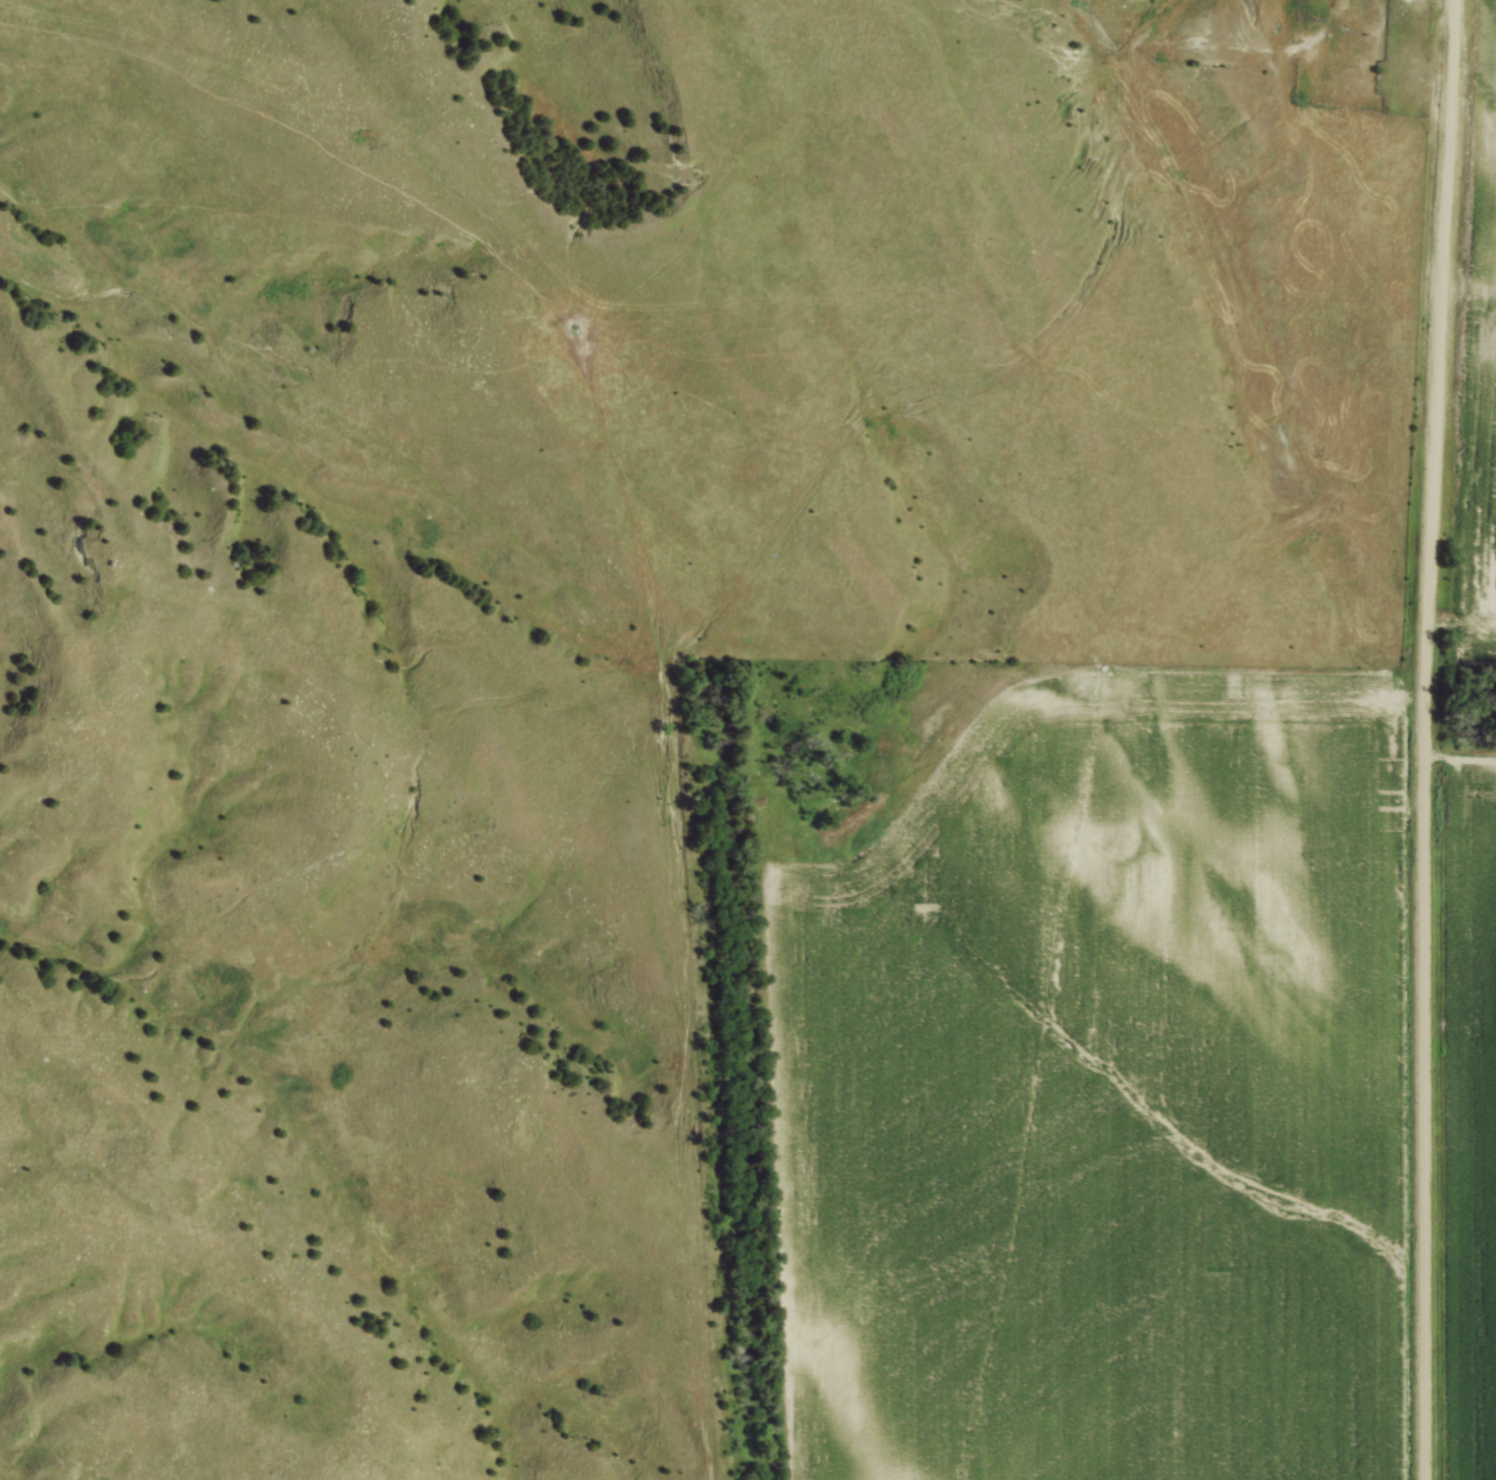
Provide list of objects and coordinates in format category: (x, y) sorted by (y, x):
road: (1427, 739)

